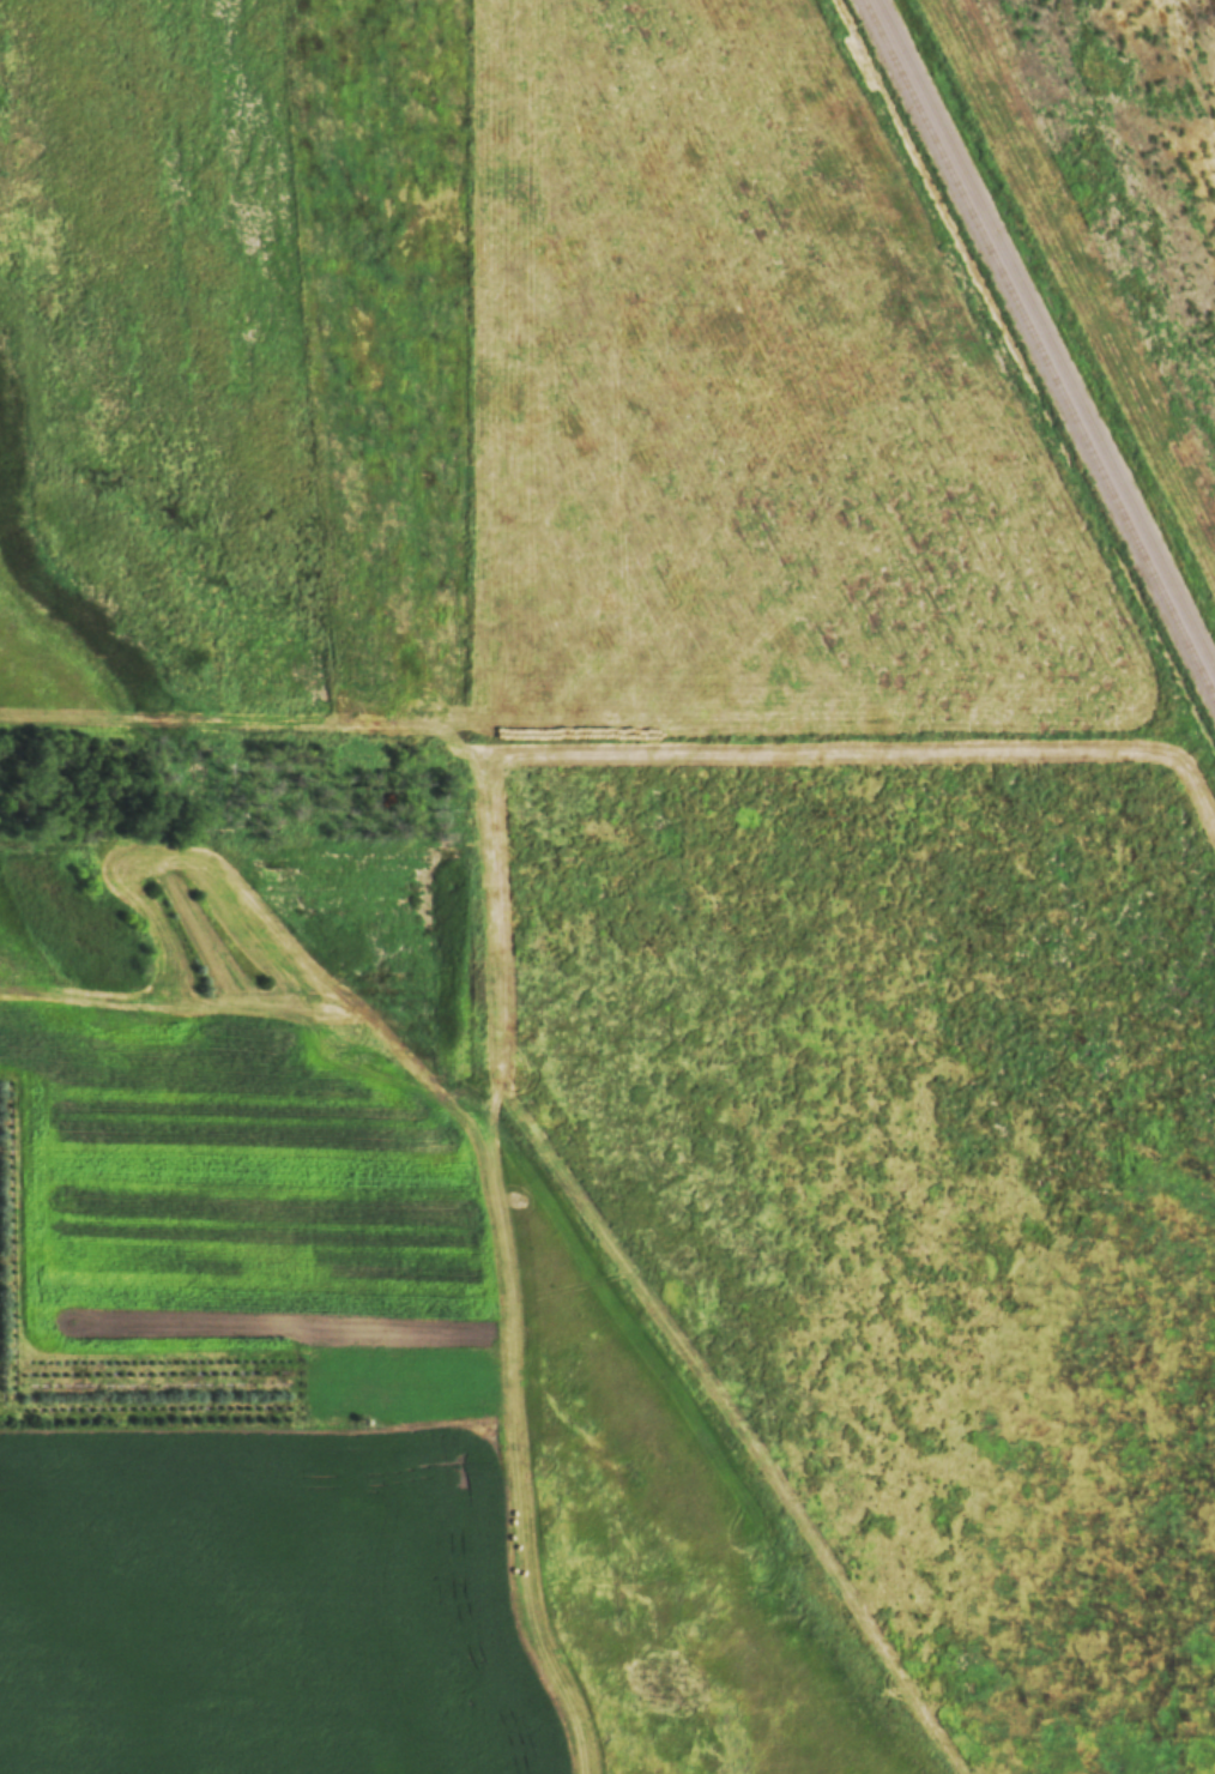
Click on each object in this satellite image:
railway: (1047, 332)
railway: (1040, 348)

